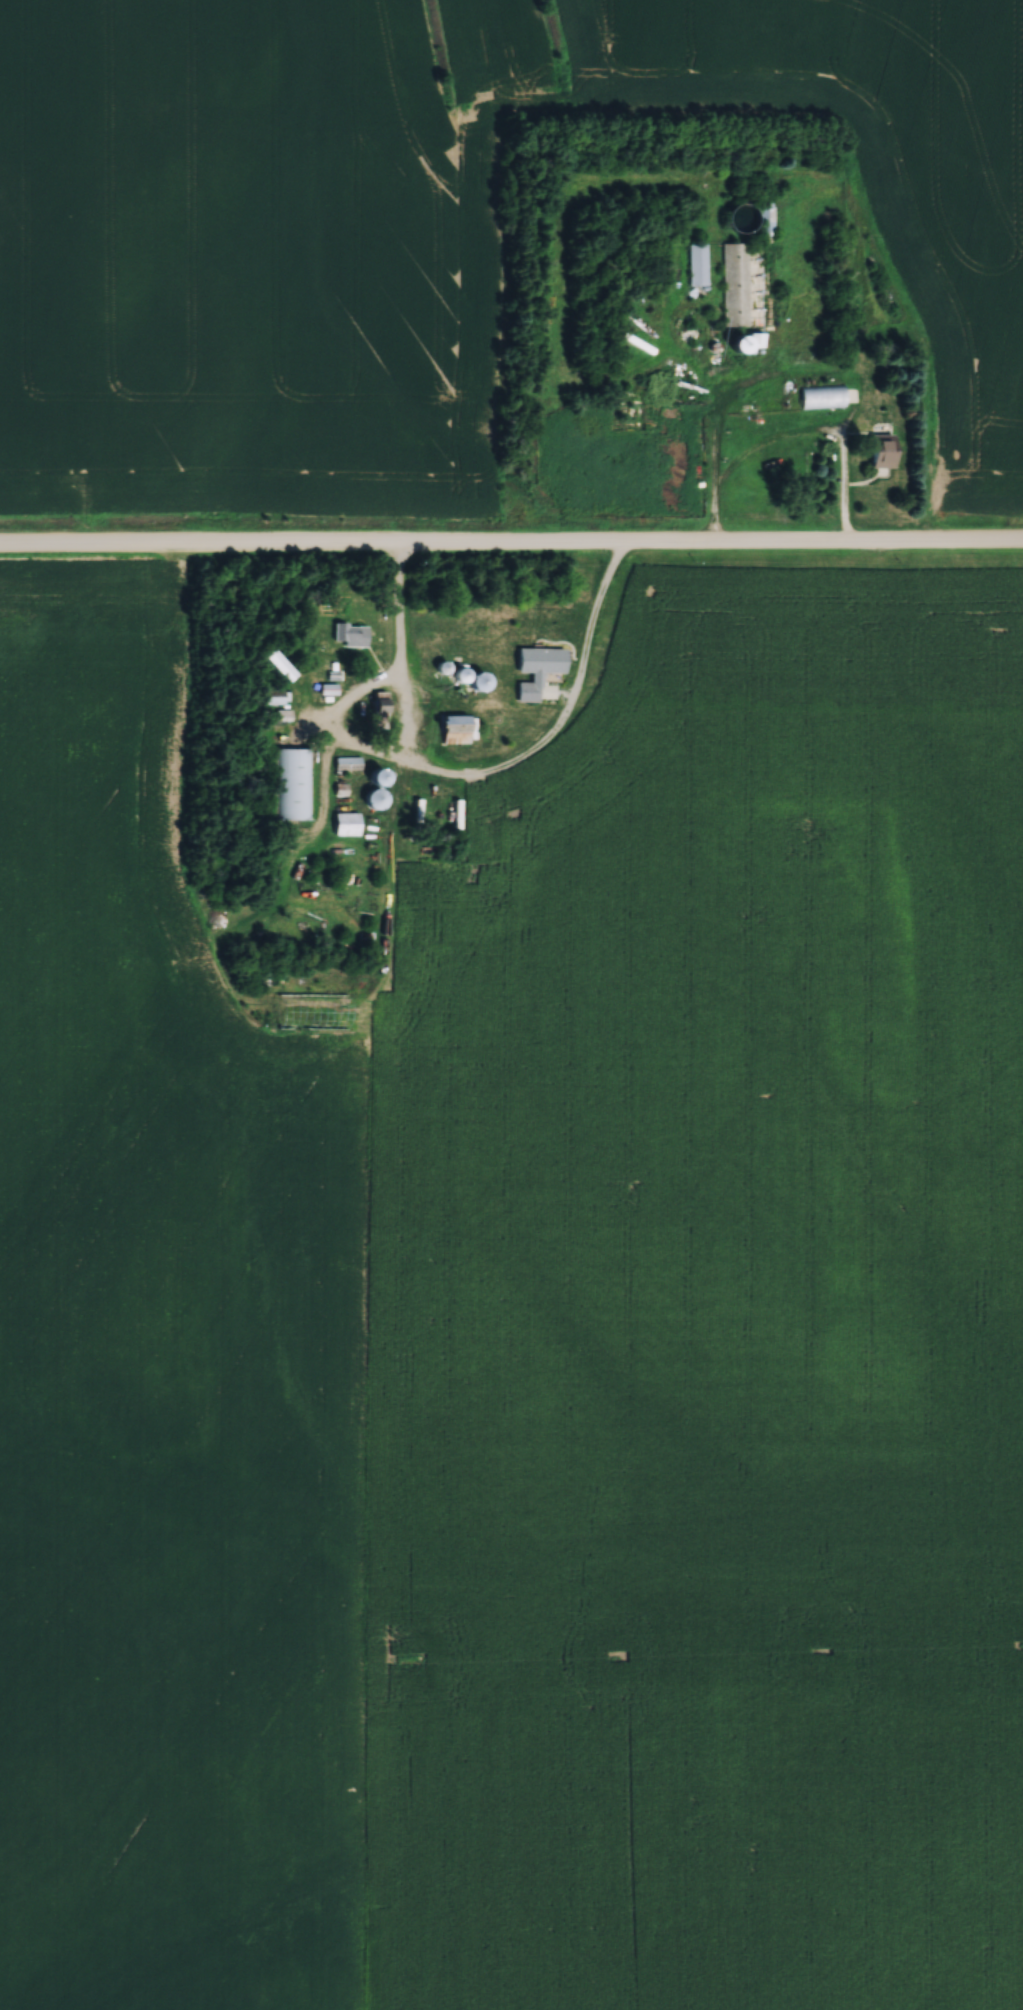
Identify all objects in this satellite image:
building: (732, 307)
building: (745, 339)
road: (795, 370)
building: (879, 449)
road: (511, 547)
building: (350, 633)
building: (277, 662)
building: (538, 672)
road: (485, 778)
building: (321, 1009)

